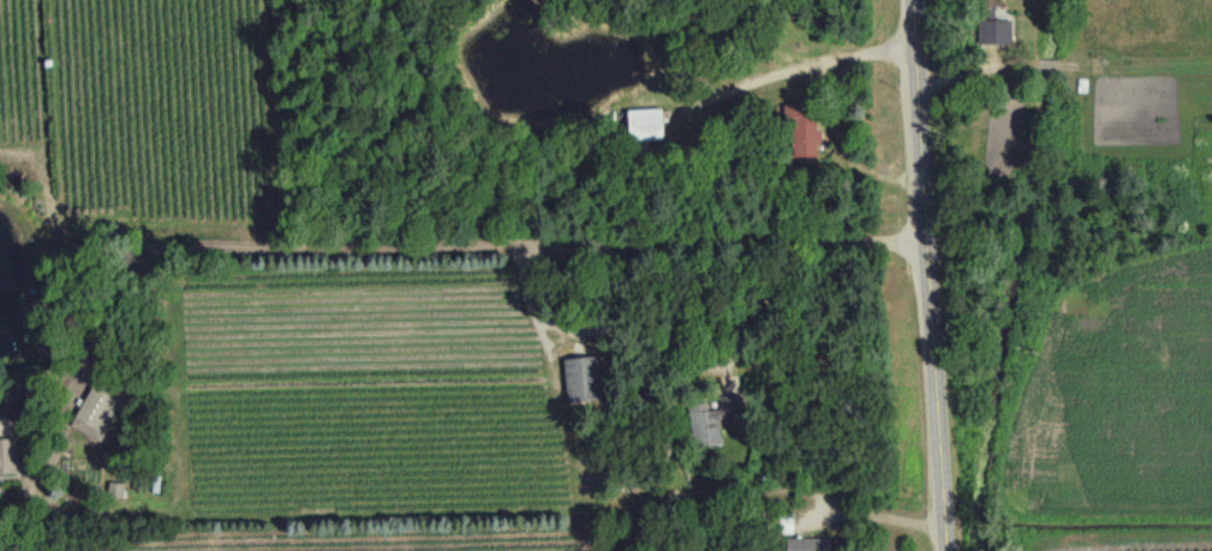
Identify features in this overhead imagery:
building: (997, 30)
road: (1046, 62)
road: (783, 64)
road: (974, 67)
road: (1134, 71)
building: (647, 122)
building: (811, 143)
road: (428, 245)
road: (929, 275)
building: (583, 378)
building: (92, 409)
building: (714, 414)
building: (7, 456)
road: (880, 513)

